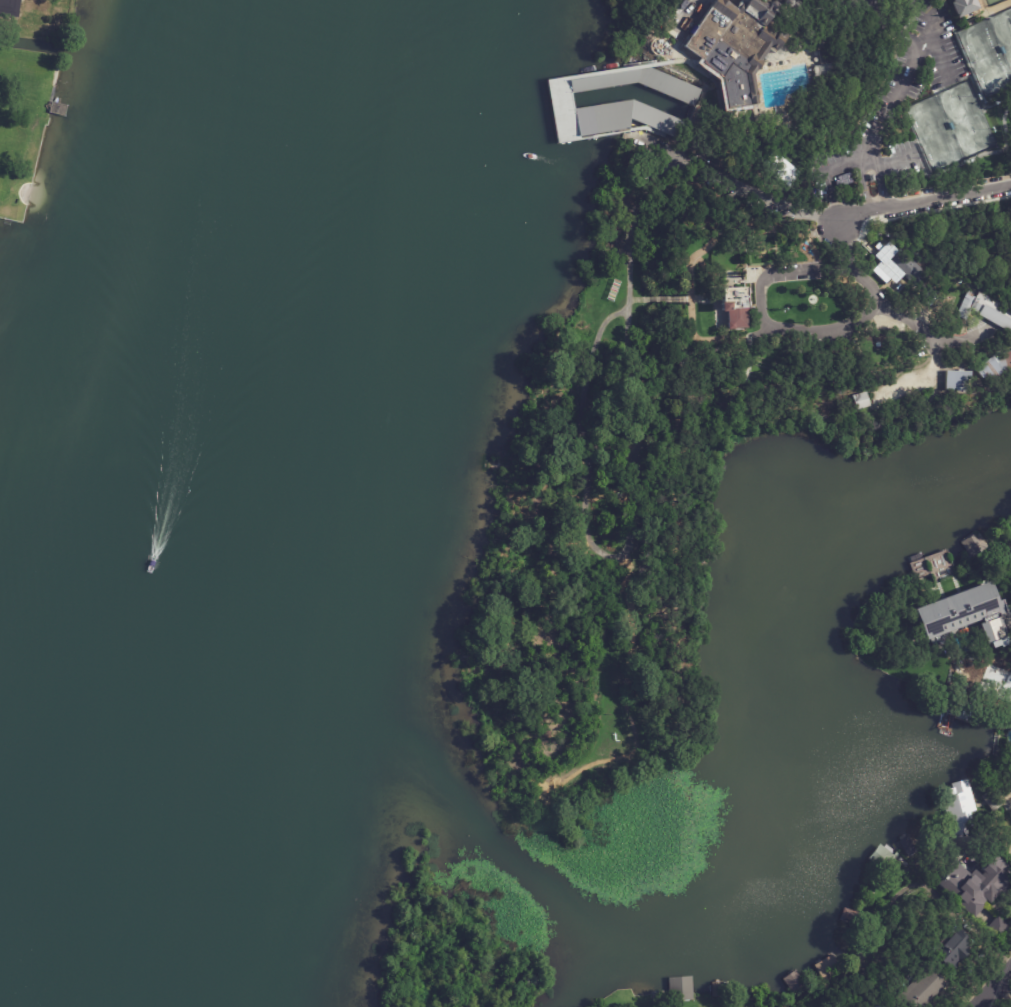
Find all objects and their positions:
building: (960, 8)
building: (13, 13)
road: (688, 16)
park: (1007, 34)
road: (676, 38)
road: (936, 39)
building: (739, 43)
street lamp: (961, 49)
building: (1001, 51)
road: (677, 52)
park: (985, 58)
pier: (620, 69)
building: (827, 71)
street lamp: (976, 81)
building: (642, 84)
road: (896, 93)
street lamp: (974, 97)
park: (966, 119)
building: (949, 126)
street lamp: (910, 127)
street lamp: (990, 129)
park: (934, 134)
street lamp: (924, 158)
road: (866, 160)
road: (863, 161)
road: (835, 217)
park: (967, 238)
road: (766, 322)
building: (685, 460)
river: (188, 514)
road: (626, 550)
building: (1007, 560)
building: (939, 564)
building: (963, 617)
building: (985, 677)
building: (959, 802)
building: (977, 884)
building: (1000, 928)
building: (959, 950)
road: (993, 987)
building: (680, 988)
building: (926, 989)
building: (878, 1005)
building: (887, 1005)

